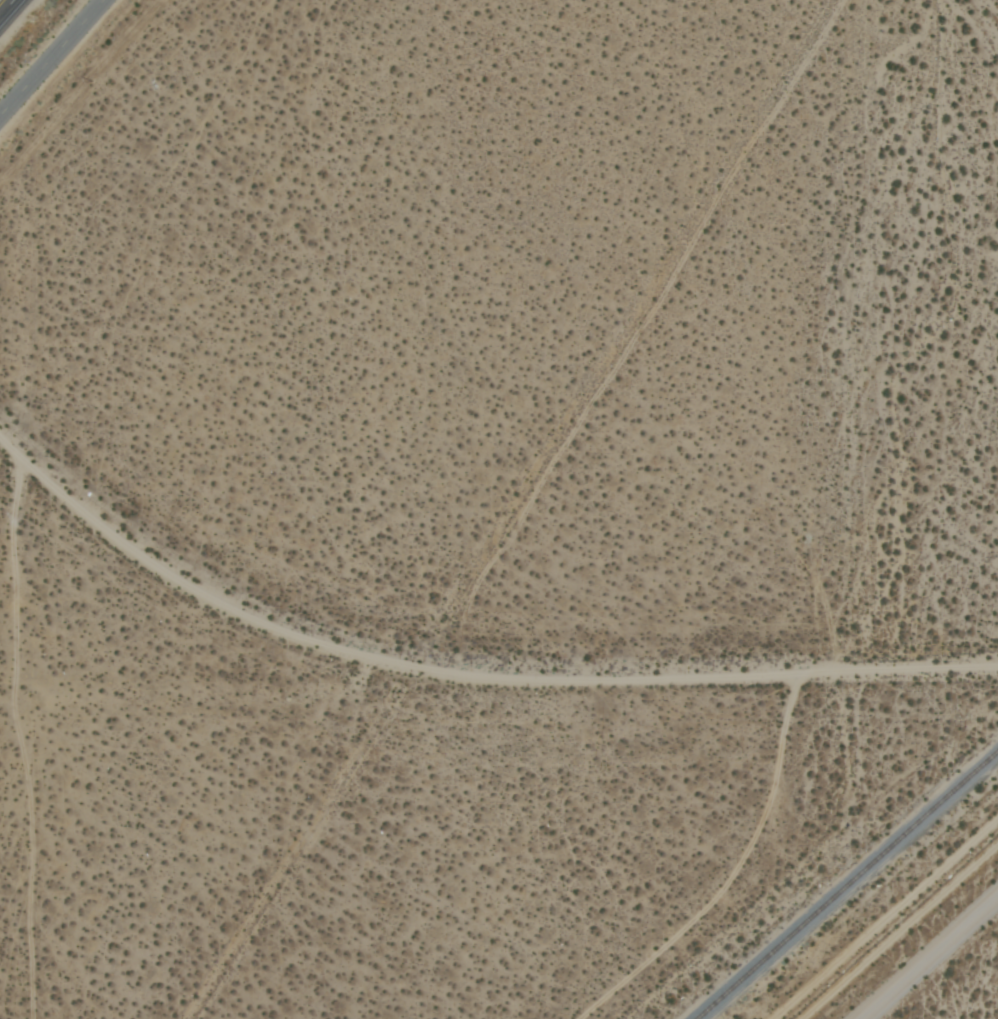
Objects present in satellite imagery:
road: (12, 13)
road: (52, 59)
road: (464, 673)
railway: (848, 886)
airport: (929, 958)
road: (929, 958)

